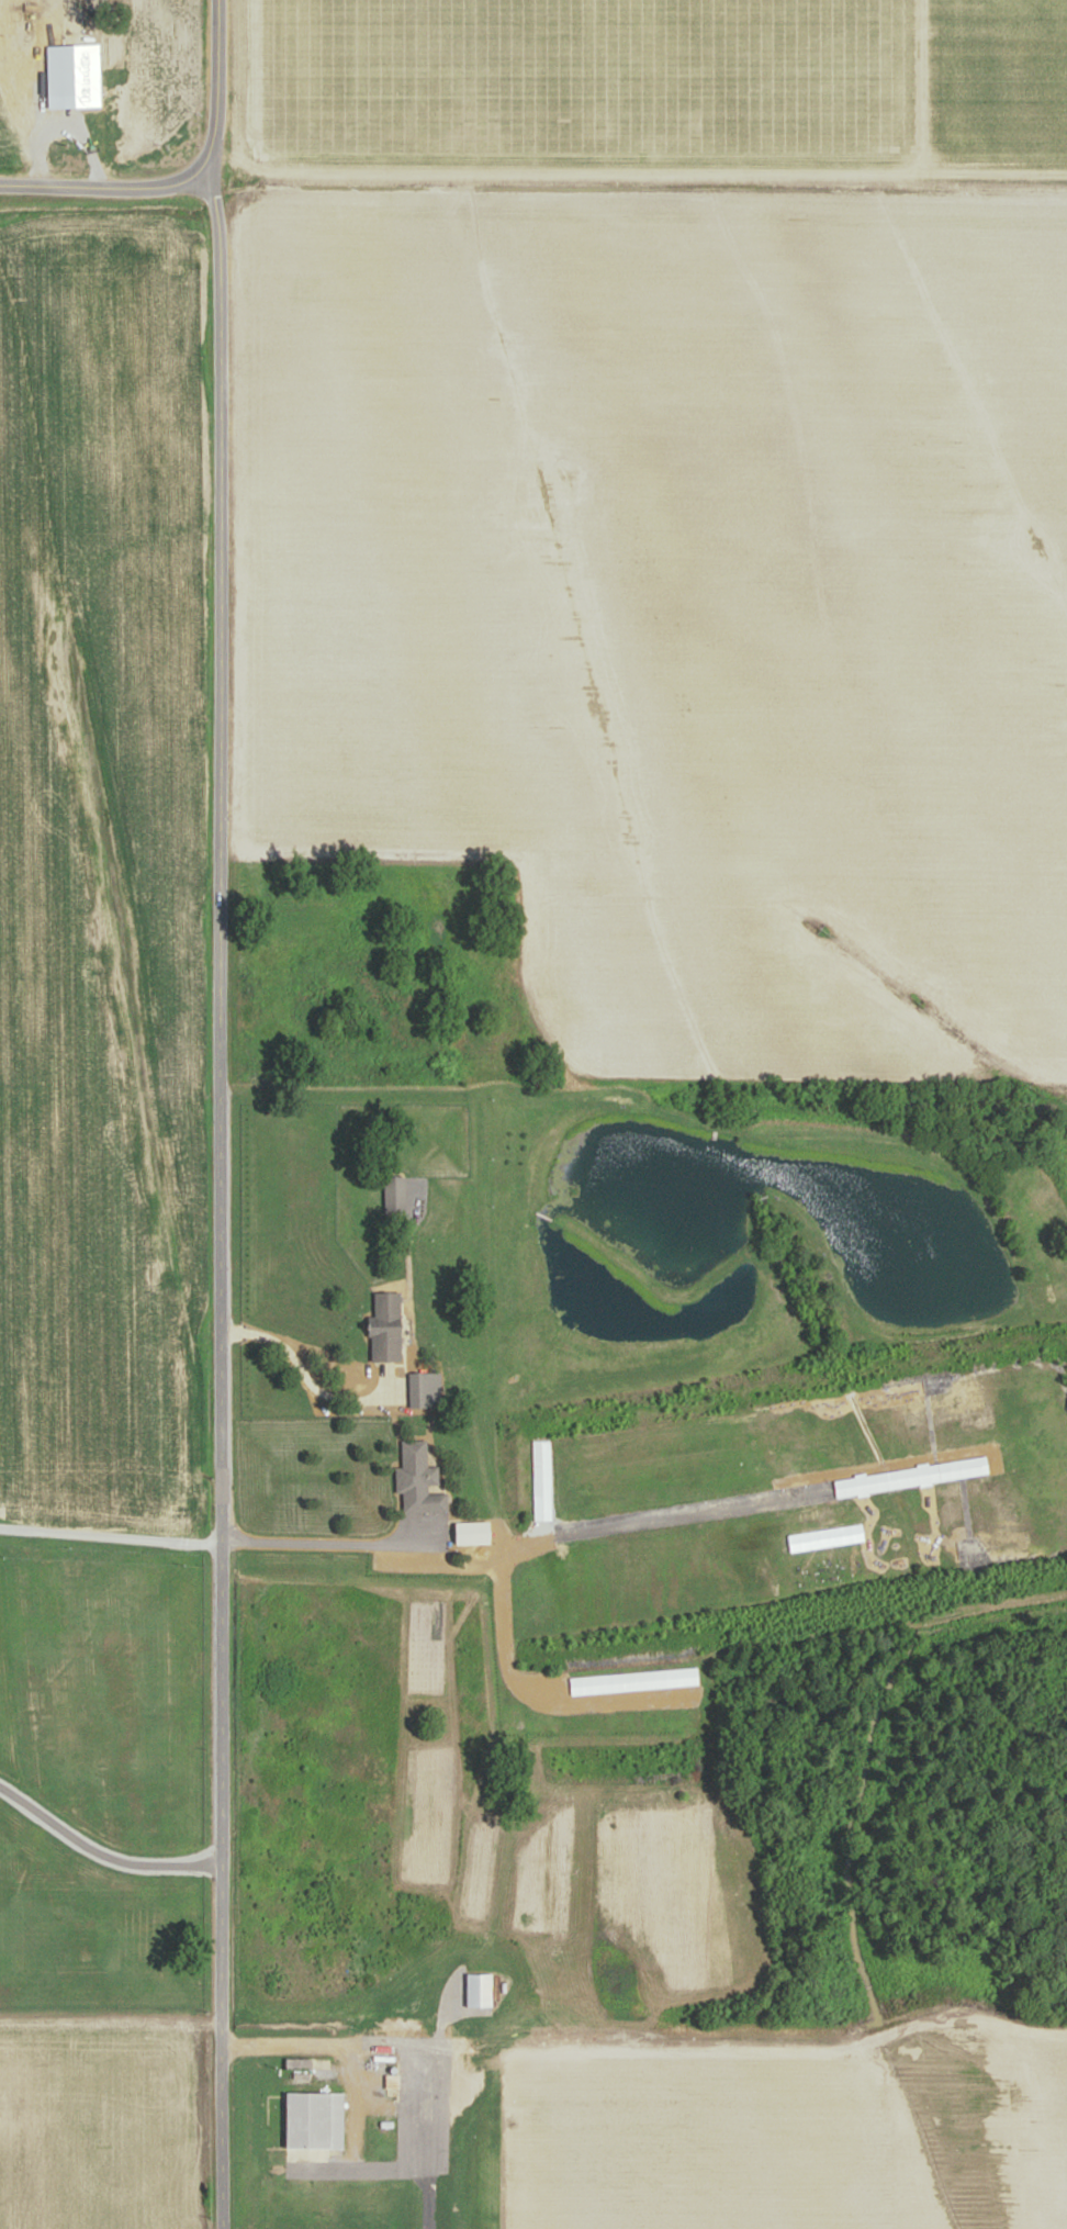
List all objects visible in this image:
building: (75, 77)
road: (188, 179)
building: (396, 1188)
road: (220, 1195)
building: (389, 1326)
road: (299, 1362)
building: (420, 1390)
building: (419, 1480)
building: (475, 1533)
road: (110, 1536)
road: (327, 1544)
road: (101, 1853)
airport hangar: (480, 1987)
building: (480, 1987)
road: (323, 2043)
airport hangar: (316, 2118)
building: (316, 2118)
airport runway: (424, 2136)
airport taxiway: (358, 2169)

